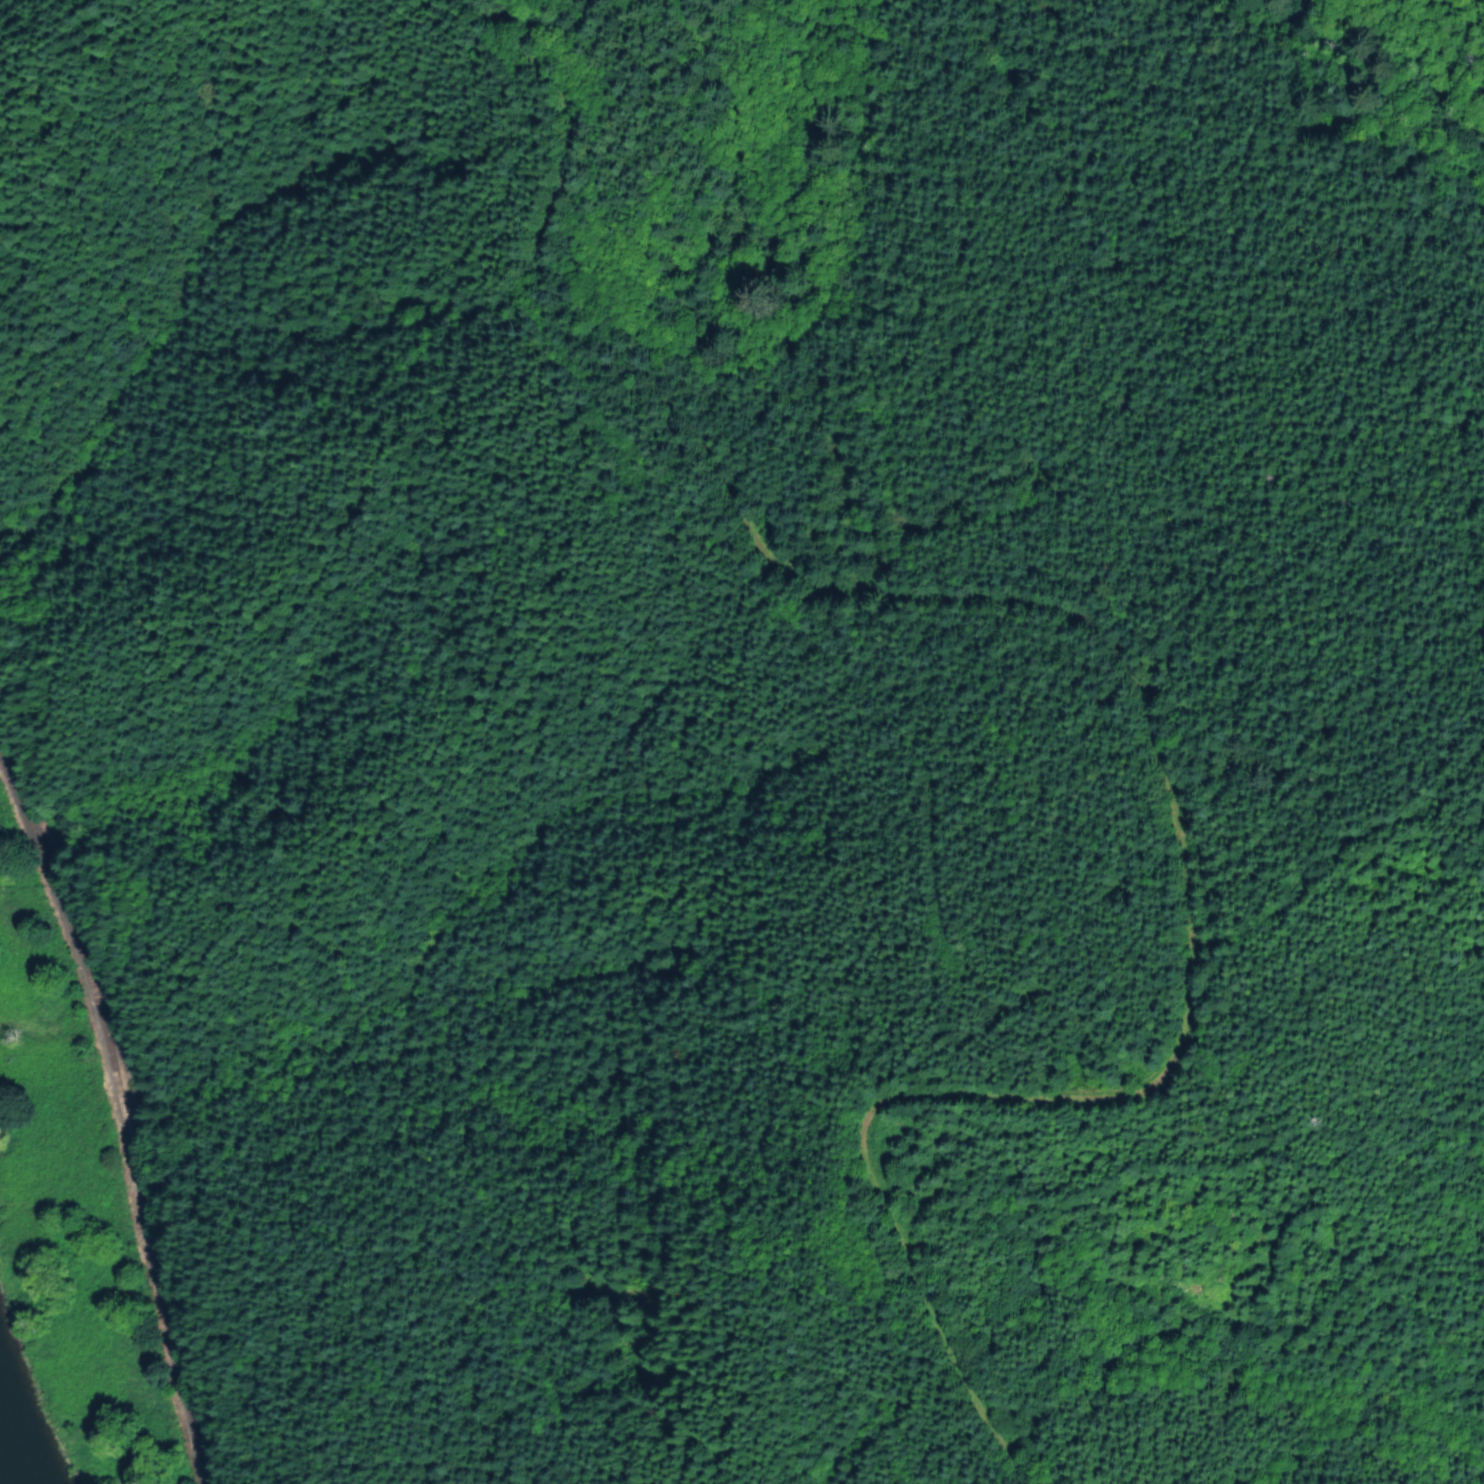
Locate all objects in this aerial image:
railway: (120, 1120)
river: (15, 1444)

